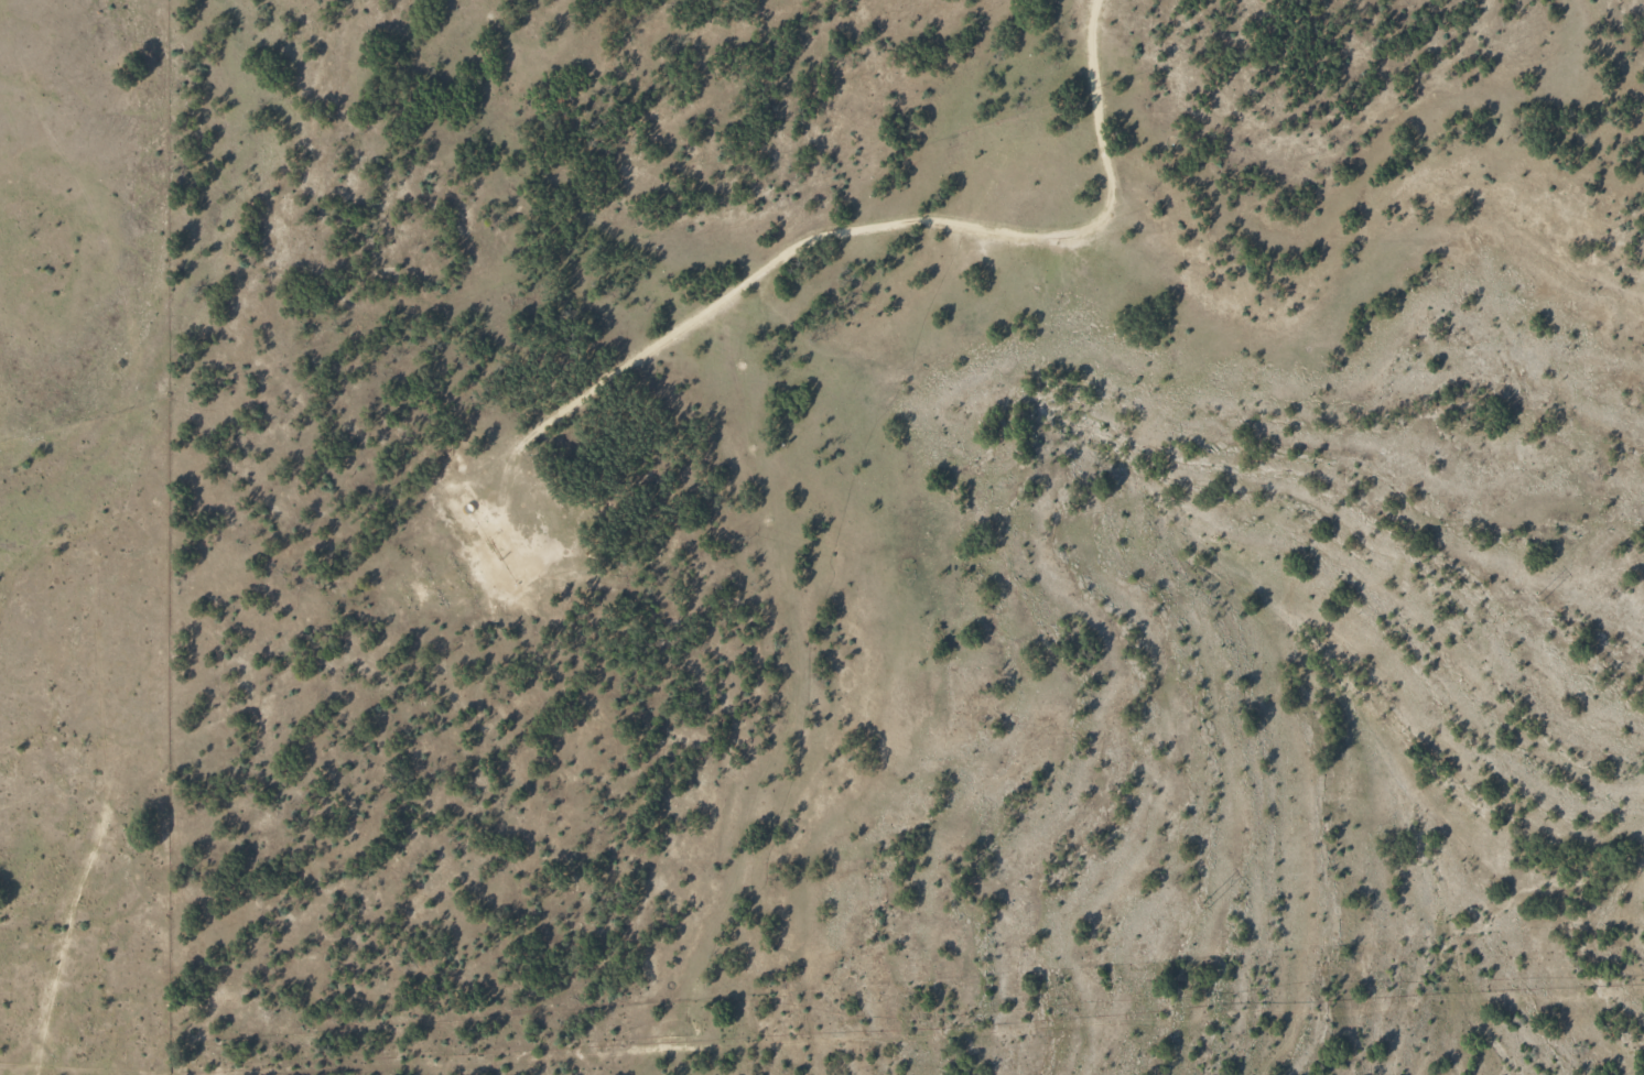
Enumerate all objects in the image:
power tower: (1537, 599)
power tower: (1207, 906)

